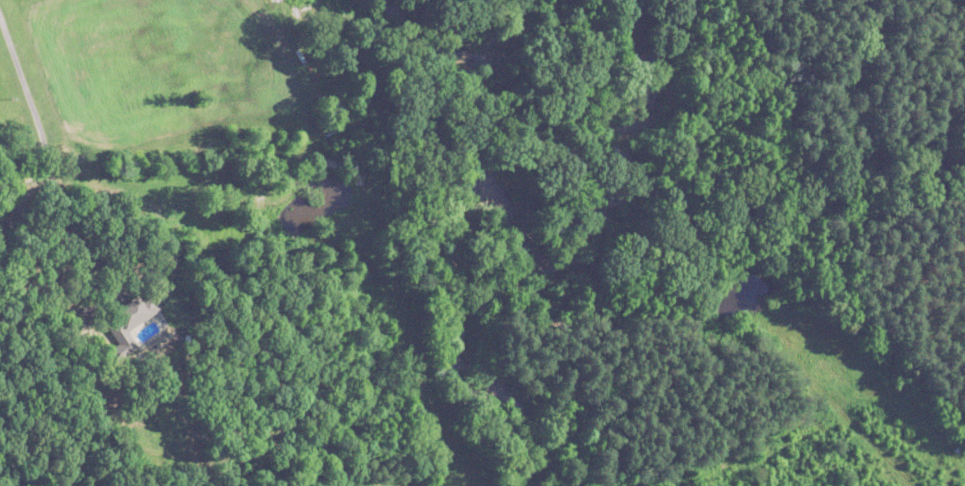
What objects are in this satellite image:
road: (38, 162)
building: (132, 319)

